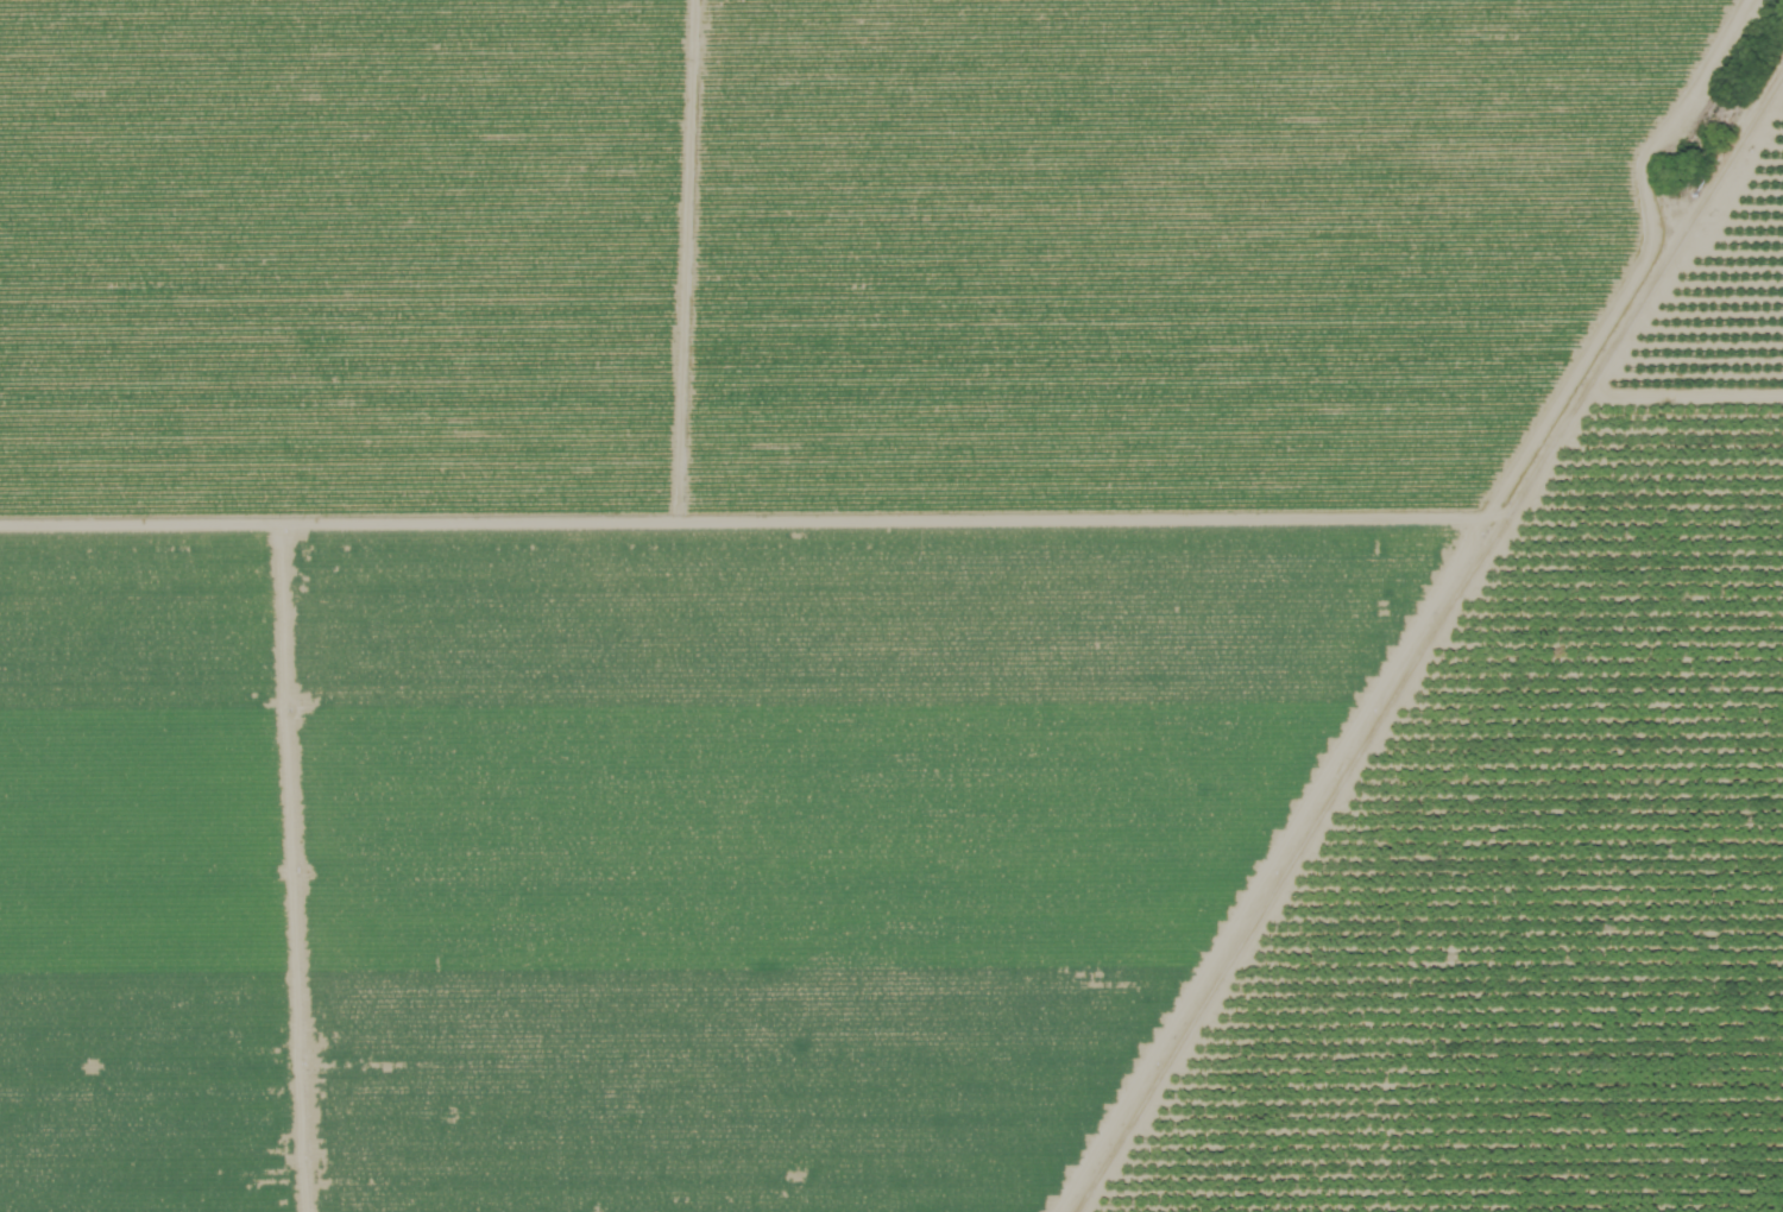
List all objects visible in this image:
crop: (1703, 278)
crop: (729, 554)
road: (1423, 644)

